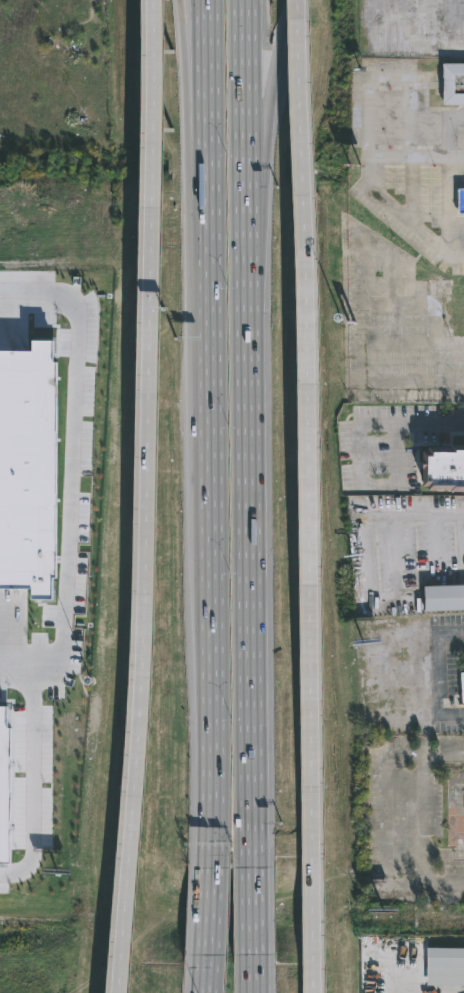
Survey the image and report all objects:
road: (288, 6)
building: (463, 18)
road: (181, 21)
road: (416, 38)
road: (245, 48)
road: (266, 54)
building: (452, 83)
road: (196, 88)
road: (367, 99)
road: (414, 190)
building: (459, 198)
road: (446, 200)
road: (403, 215)
building: (457, 313)
road: (431, 425)
road: (210, 433)
building: (442, 467)
road: (78, 477)
road: (249, 481)
road: (363, 488)
road: (149, 496)
road: (311, 496)
road: (430, 513)
building: (463, 579)
road: (372, 595)
building: (441, 598)
road: (435, 675)
building: (462, 686)
road: (41, 786)
road: (211, 910)
road: (253, 910)
railway: (232, 912)
building: (446, 967)
road: (207, 973)
road: (253, 973)

